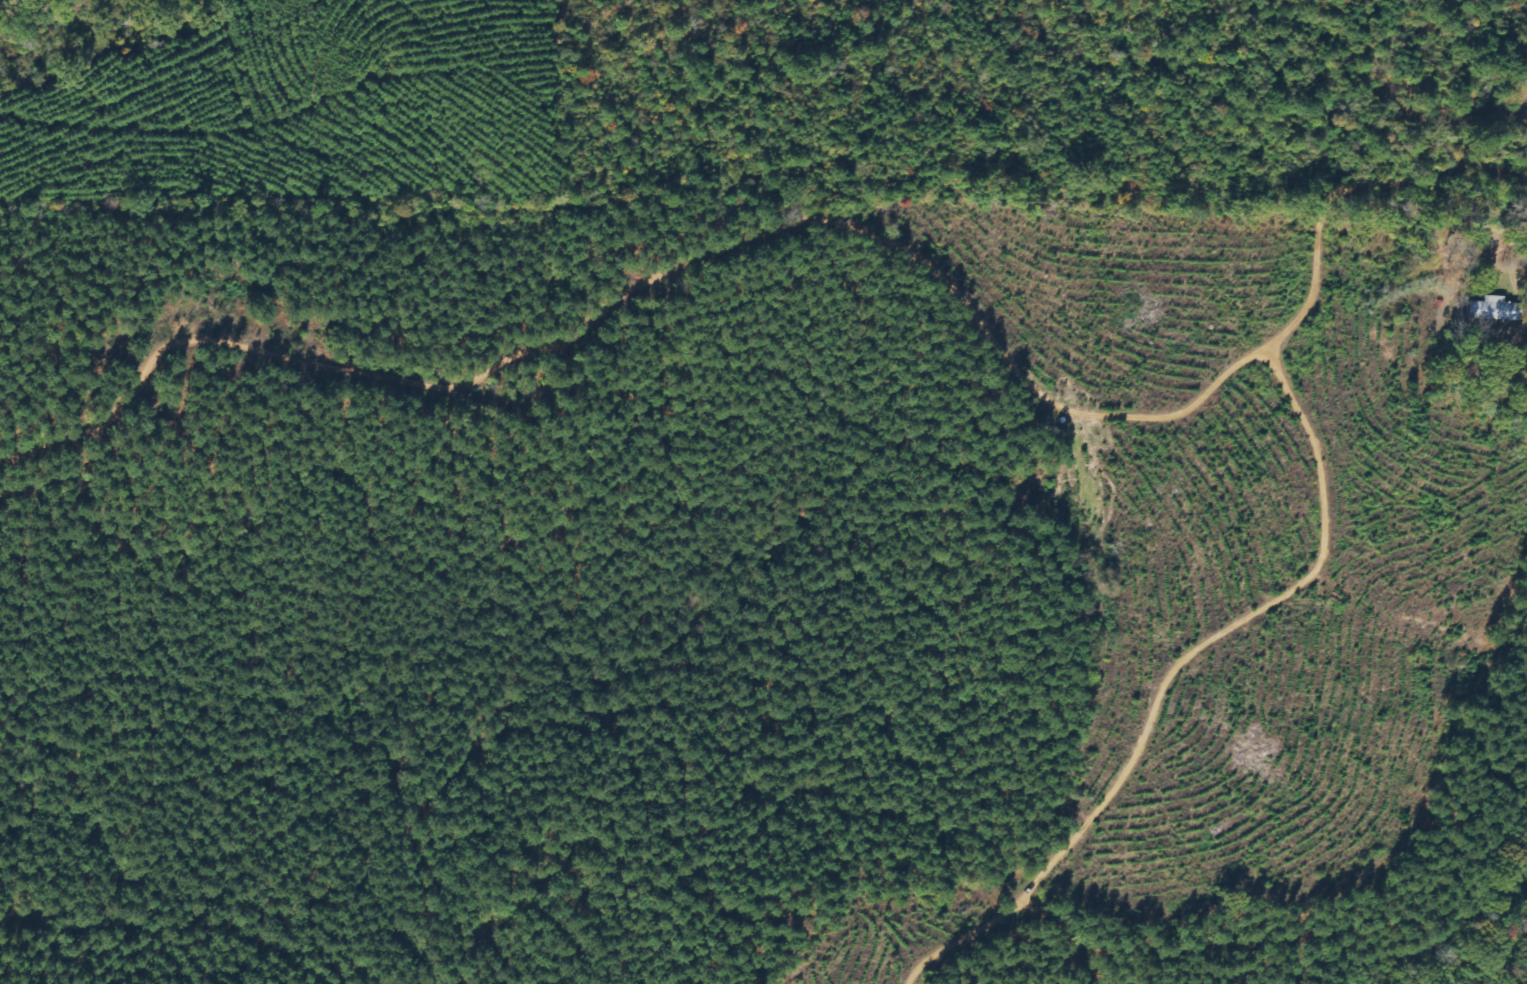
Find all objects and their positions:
building: (1492, 309)

